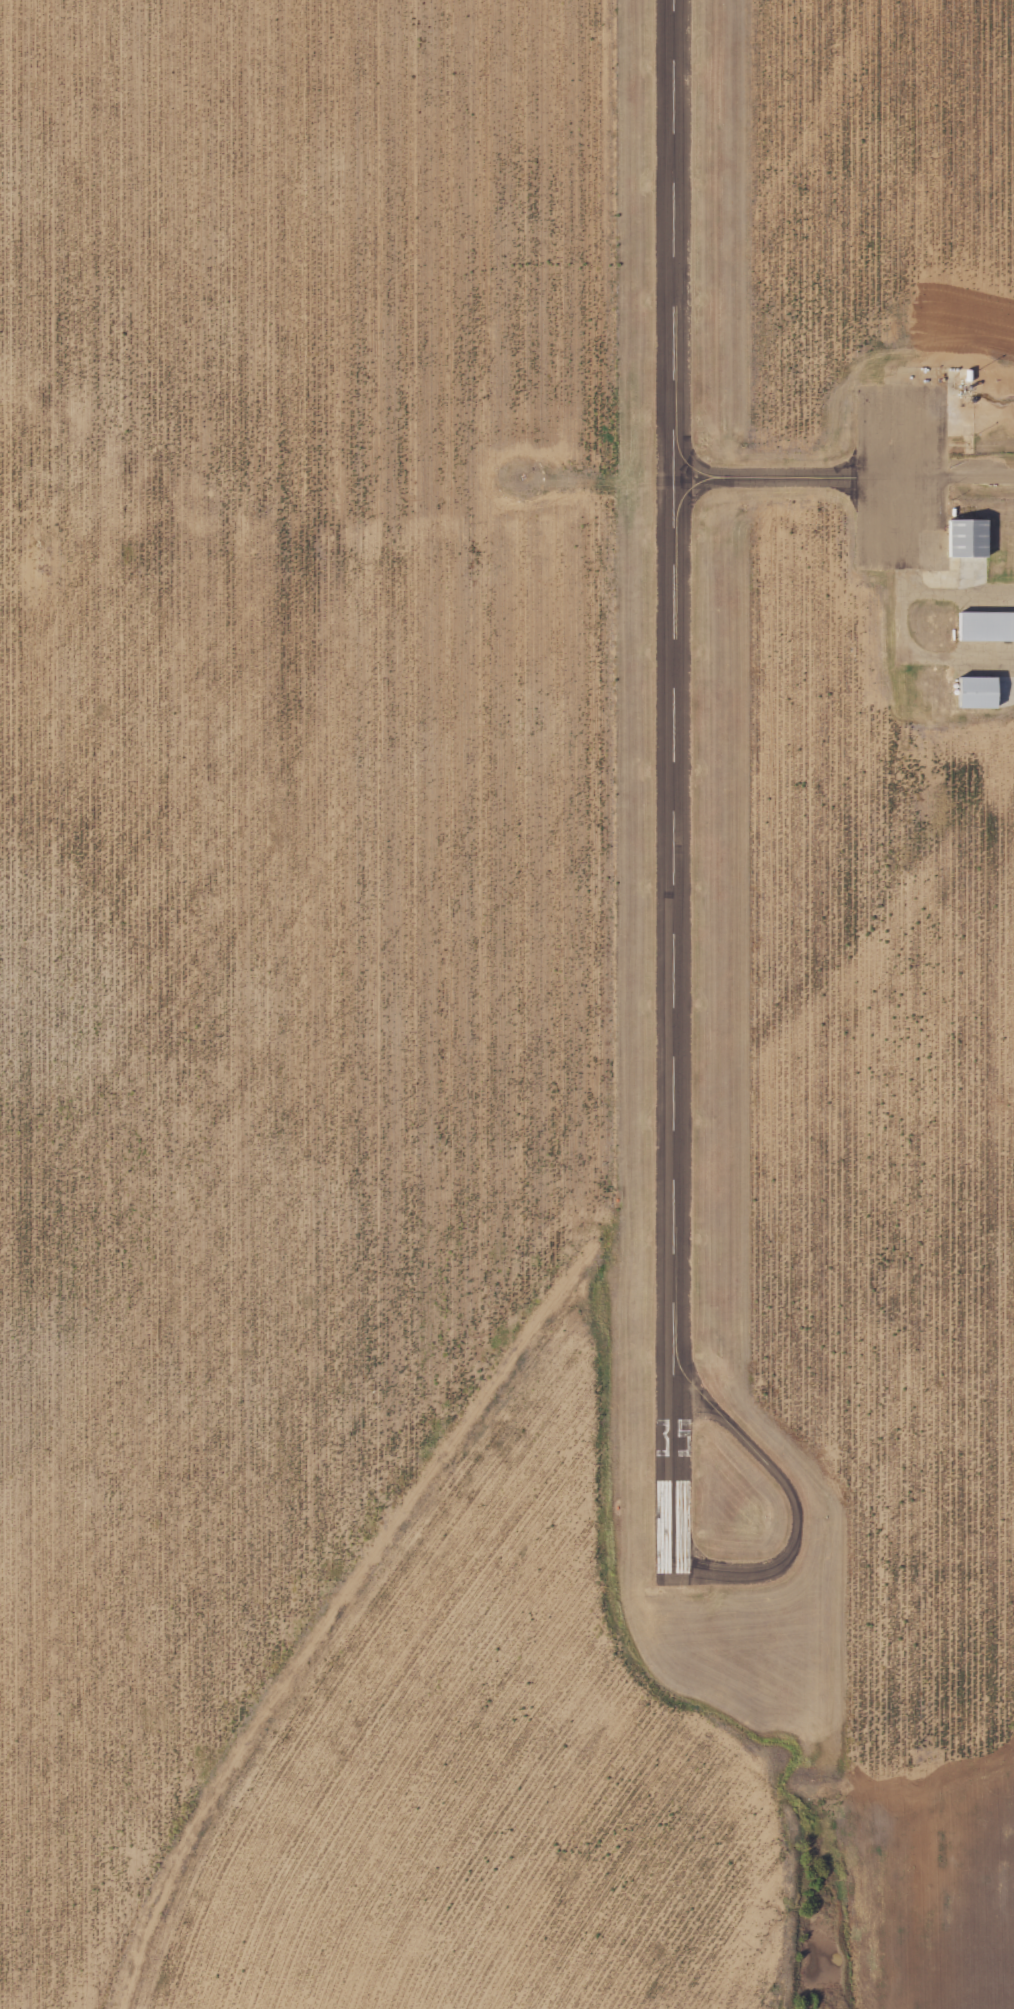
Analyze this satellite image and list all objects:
building: (976, 402)
airport apron: (921, 470)
airport taxiway: (762, 476)
road: (1000, 481)
building: (963, 537)
airport hangar: (983, 627)
building: (983, 627)
airport hangar: (969, 692)
building: (969, 692)
airport runway: (663, 794)

